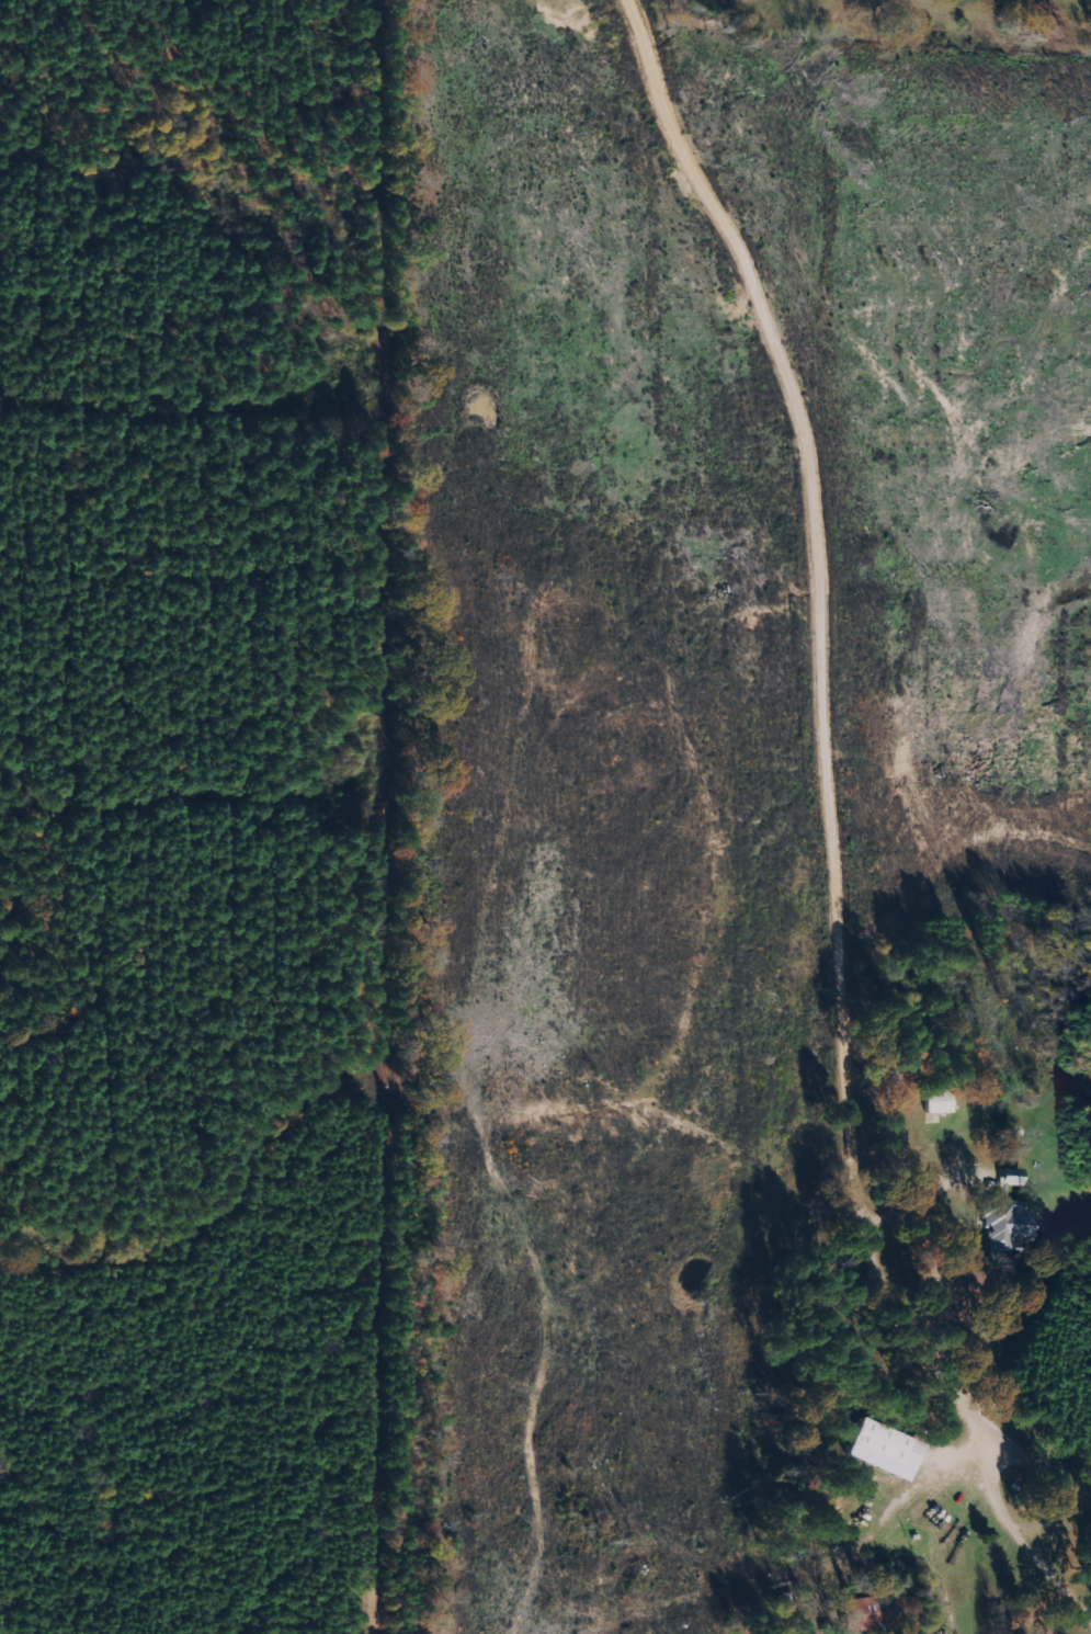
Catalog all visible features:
road: (953, 441)
road: (841, 770)
building: (936, 1102)
road: (928, 1192)
building: (1005, 1216)
road: (933, 1266)
building: (882, 1441)
road: (1012, 1531)

